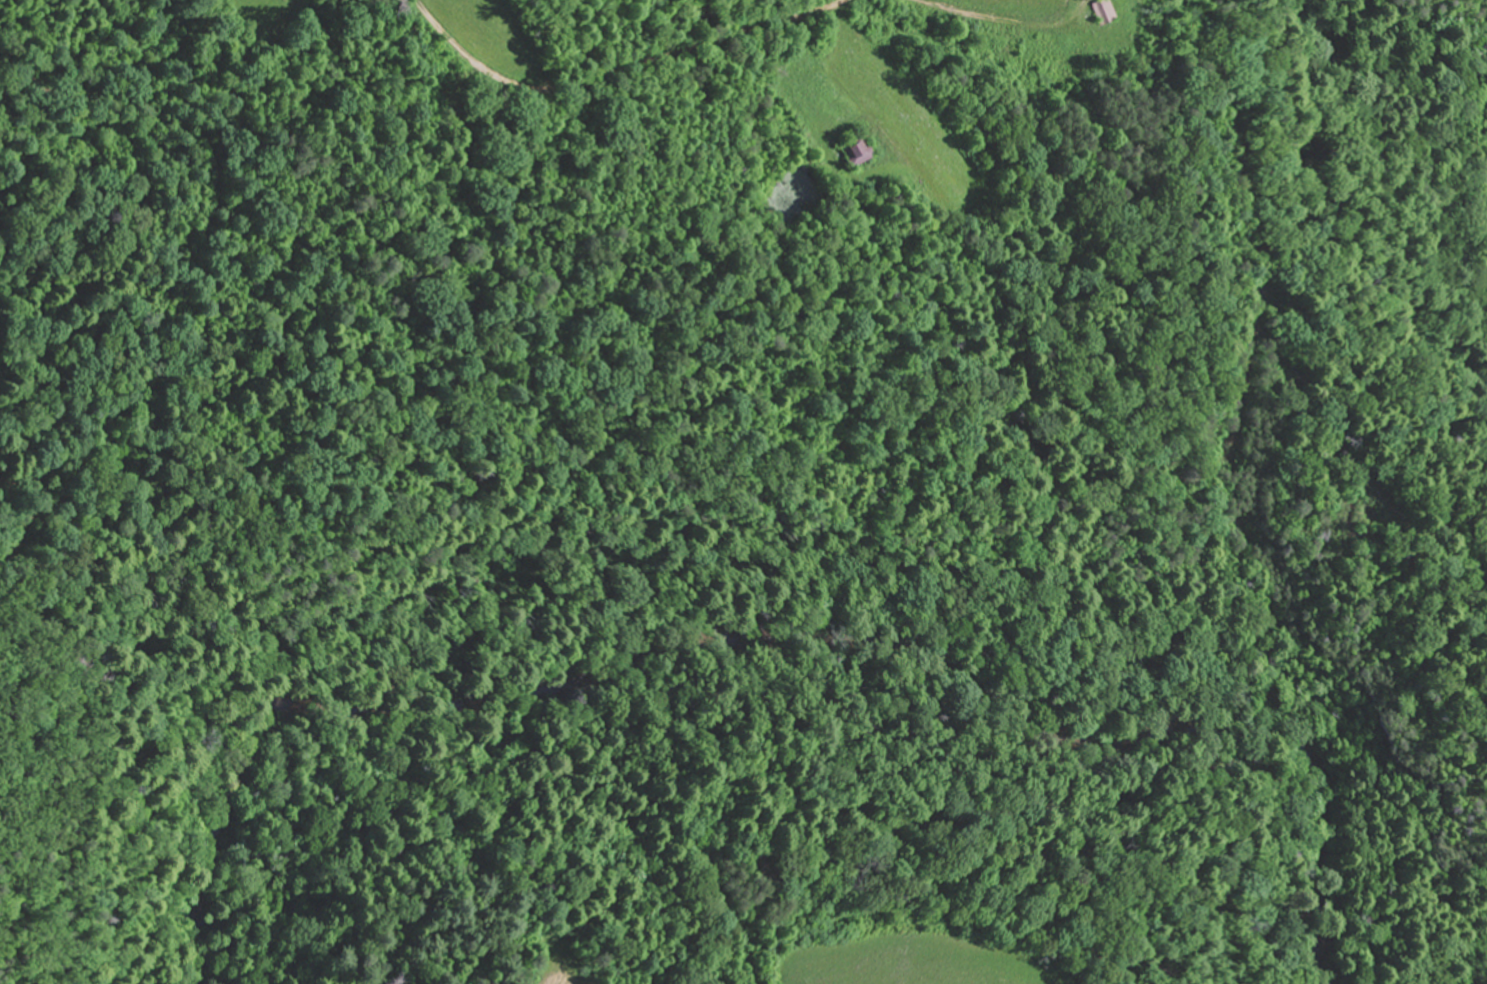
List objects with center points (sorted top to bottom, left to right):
road: (1084, 6)
building: (1101, 12)
building: (852, 151)

